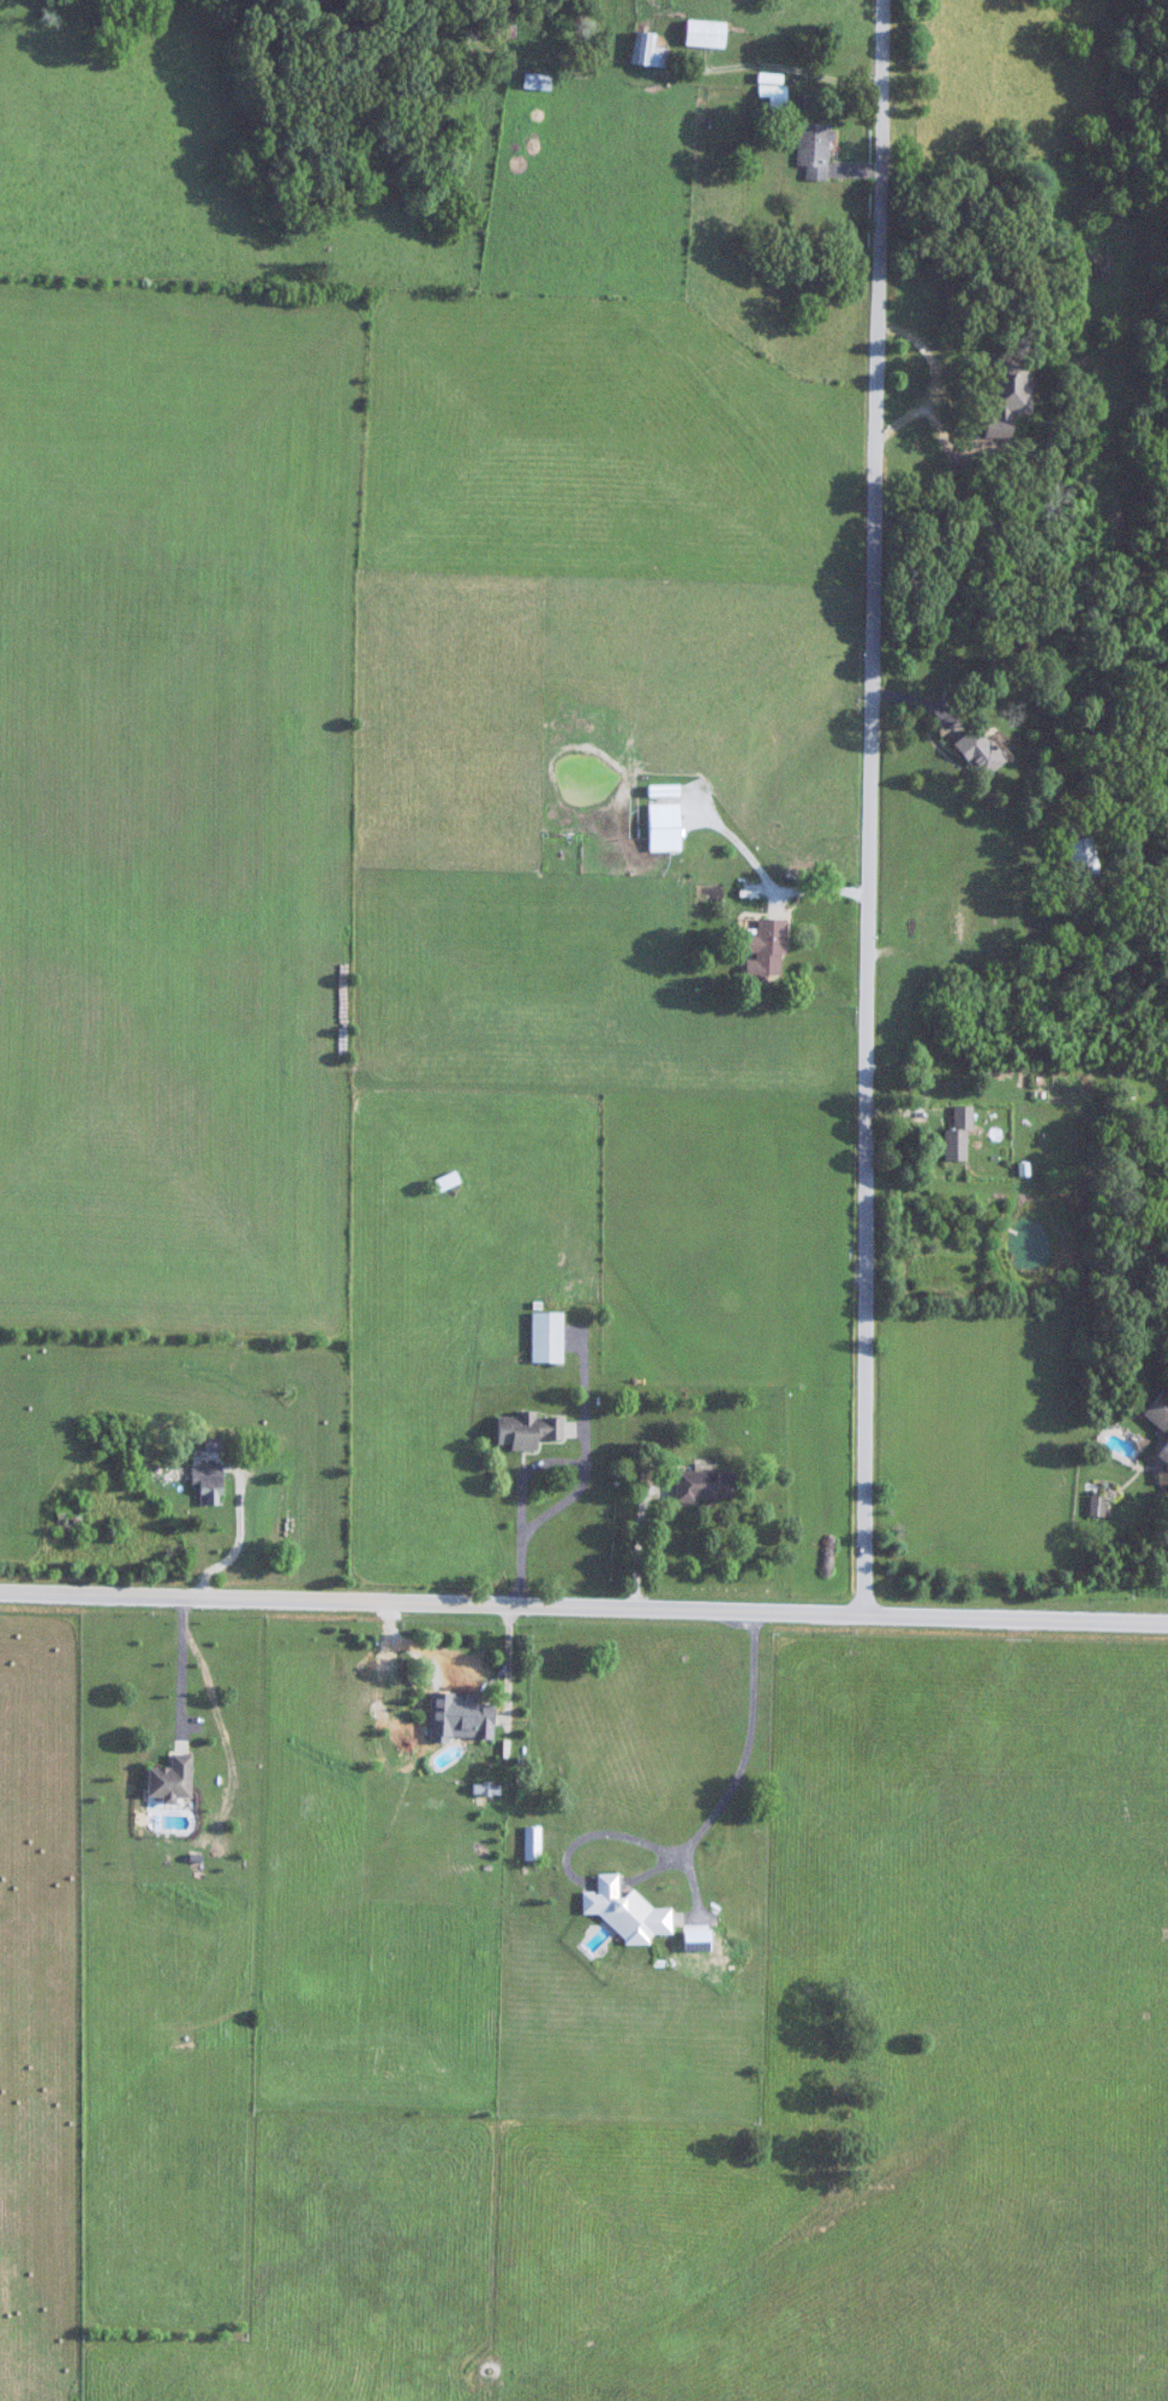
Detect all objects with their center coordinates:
building: (499, 25)
building: (707, 32)
building: (648, 50)
building: (538, 82)
building: (775, 95)
building: (810, 149)
building: (1000, 391)
building: (972, 753)
road: (865, 813)
building: (665, 827)
building: (1078, 857)
building: (768, 946)
building: (953, 1134)
building: (448, 1181)
building: (547, 1337)
building: (1158, 1427)
building: (528, 1431)
road: (525, 1466)
building: (208, 1481)
building: (707, 1486)
road: (635, 1546)
road: (233, 1549)
road: (1163, 1611)
road: (583, 1618)
road: (179, 1673)
building: (471, 1707)
road: (742, 1755)
building: (173, 1779)
building: (532, 1842)
building: (625, 1911)

